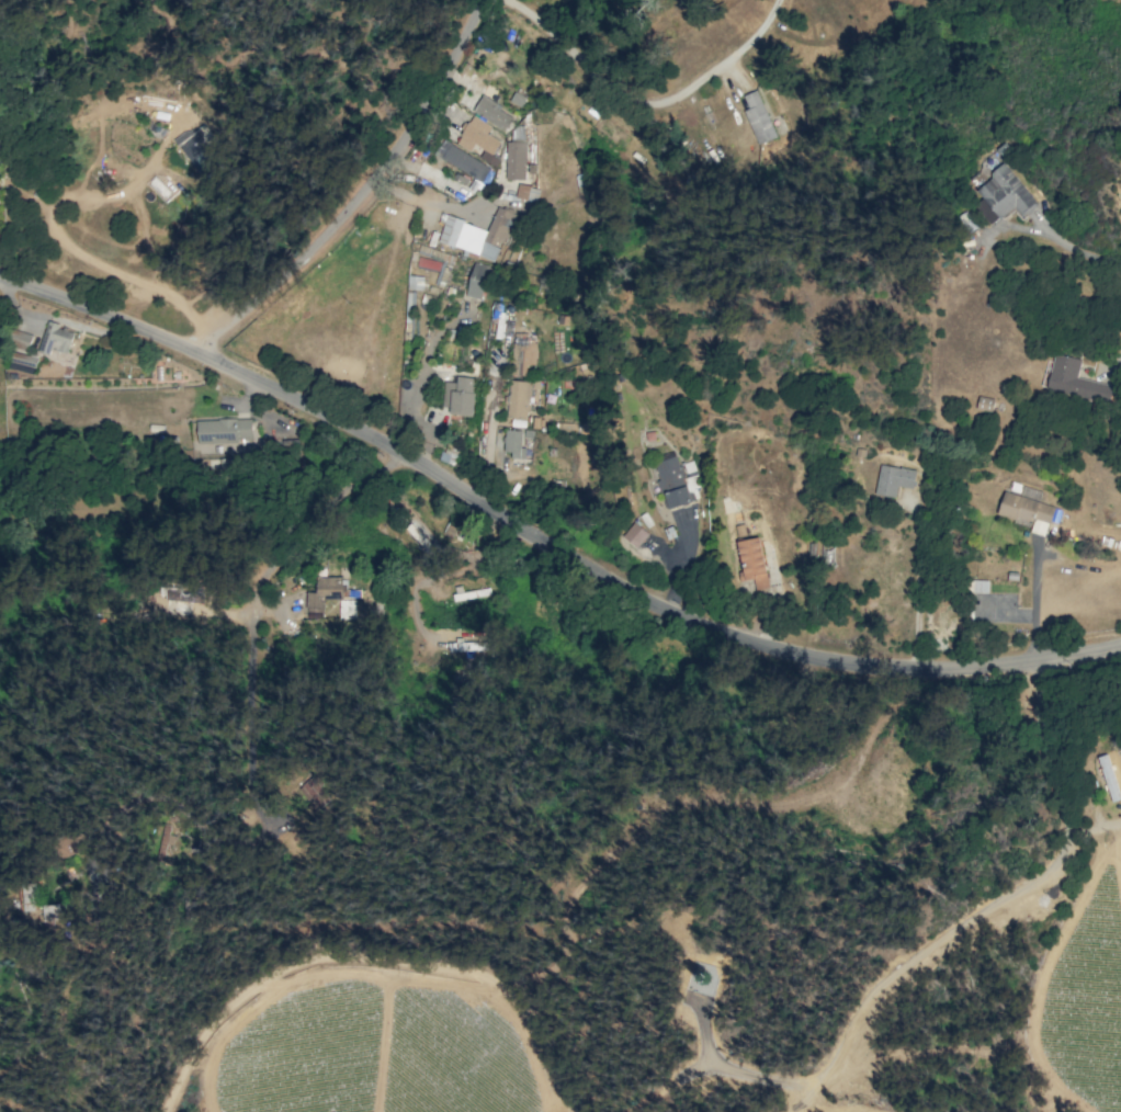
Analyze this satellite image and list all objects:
building: (517, 99)
road: (642, 110)
building: (492, 113)
building: (758, 117)
building: (476, 136)
building: (196, 151)
building: (461, 160)
building: (514, 160)
road: (359, 191)
building: (526, 192)
building: (1005, 193)
building: (476, 234)
road: (1076, 250)
building: (476, 280)
building: (415, 282)
building: (55, 339)
building: (525, 355)
building: (23, 361)
building: (1074, 381)
building: (461, 397)
building: (519, 398)
building: (984, 404)
building: (223, 430)
road: (488, 442)
building: (512, 443)
building: (893, 479)
building: (671, 480)
building: (1026, 511)
building: (634, 534)
road: (543, 543)
building: (752, 560)
building: (980, 586)
building: (322, 594)
road: (1032, 605)
building: (347, 609)
building: (468, 646)
building: (1108, 778)
building: (318, 792)
building: (52, 911)
crop: (1079, 972)
crop: (372, 1043)

